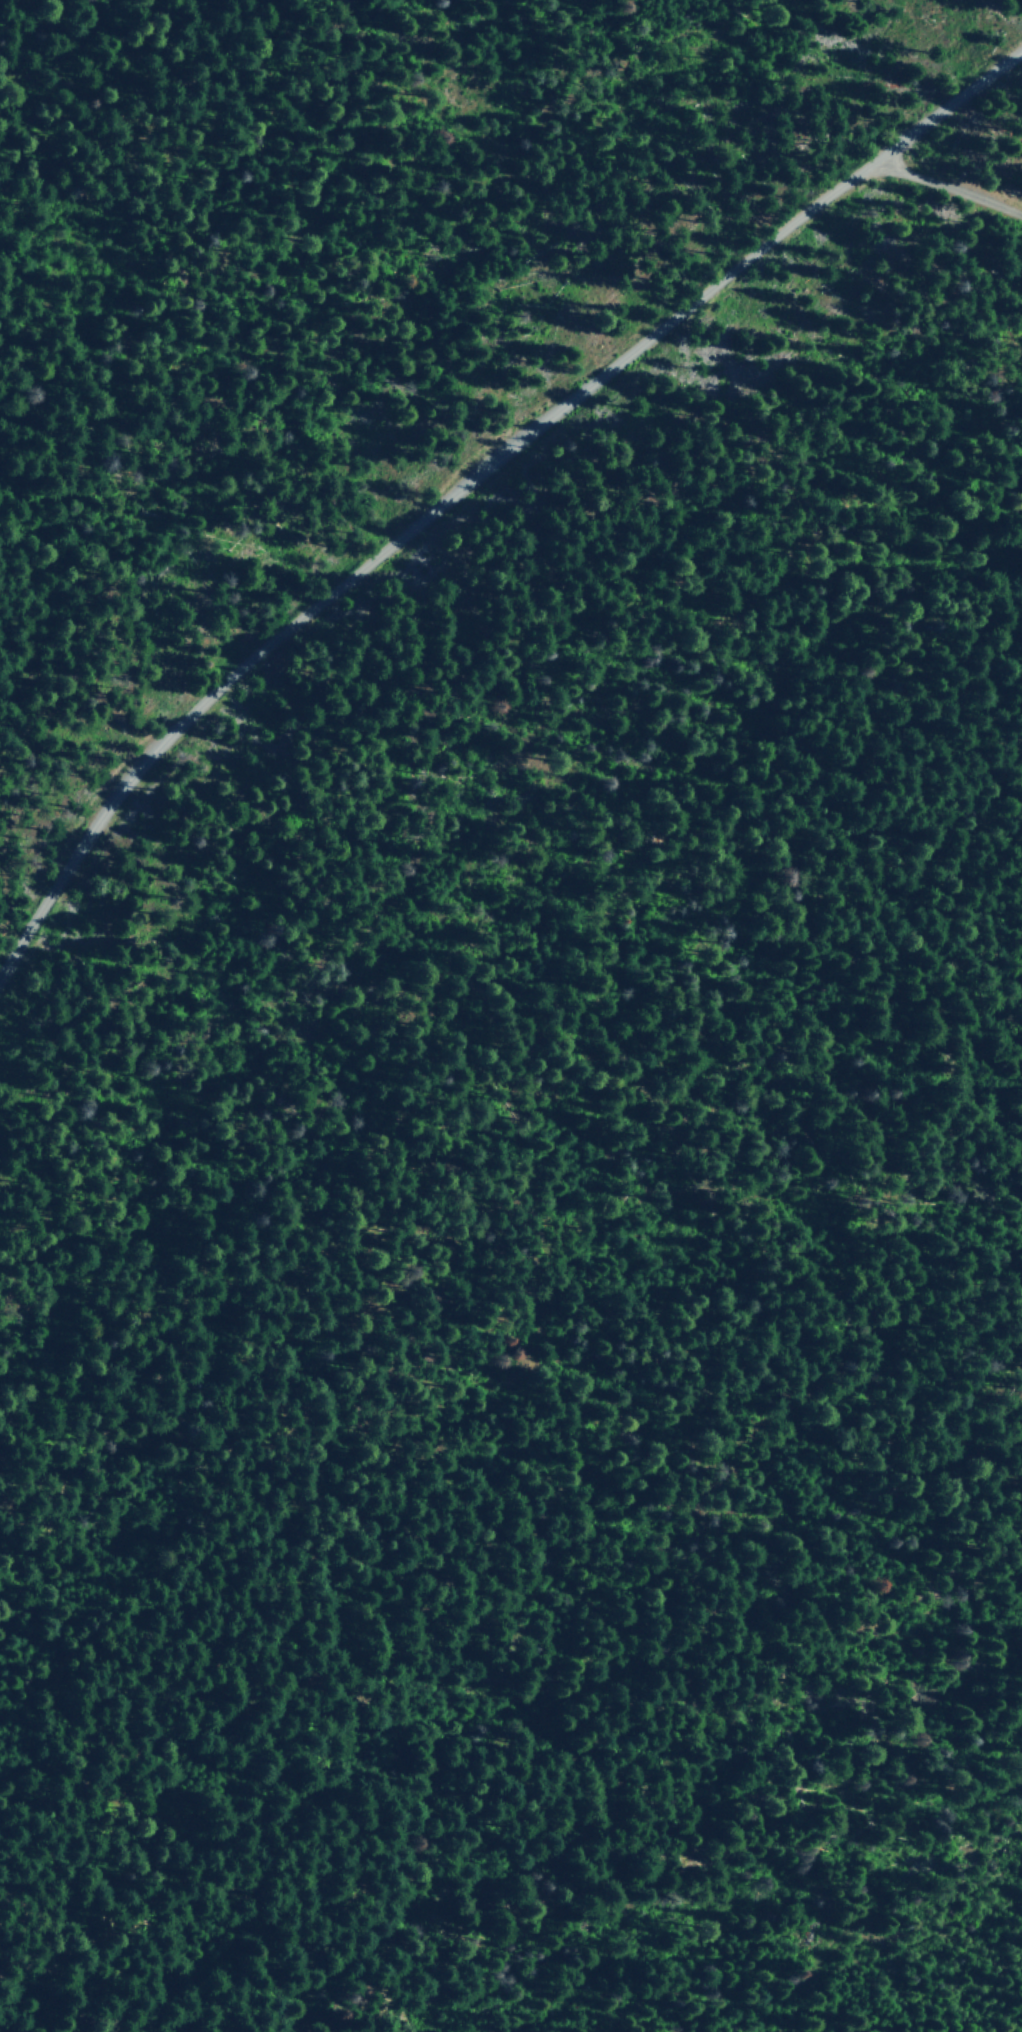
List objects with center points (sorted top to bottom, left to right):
road: (949, 187)
road: (471, 481)
road: (495, 848)

